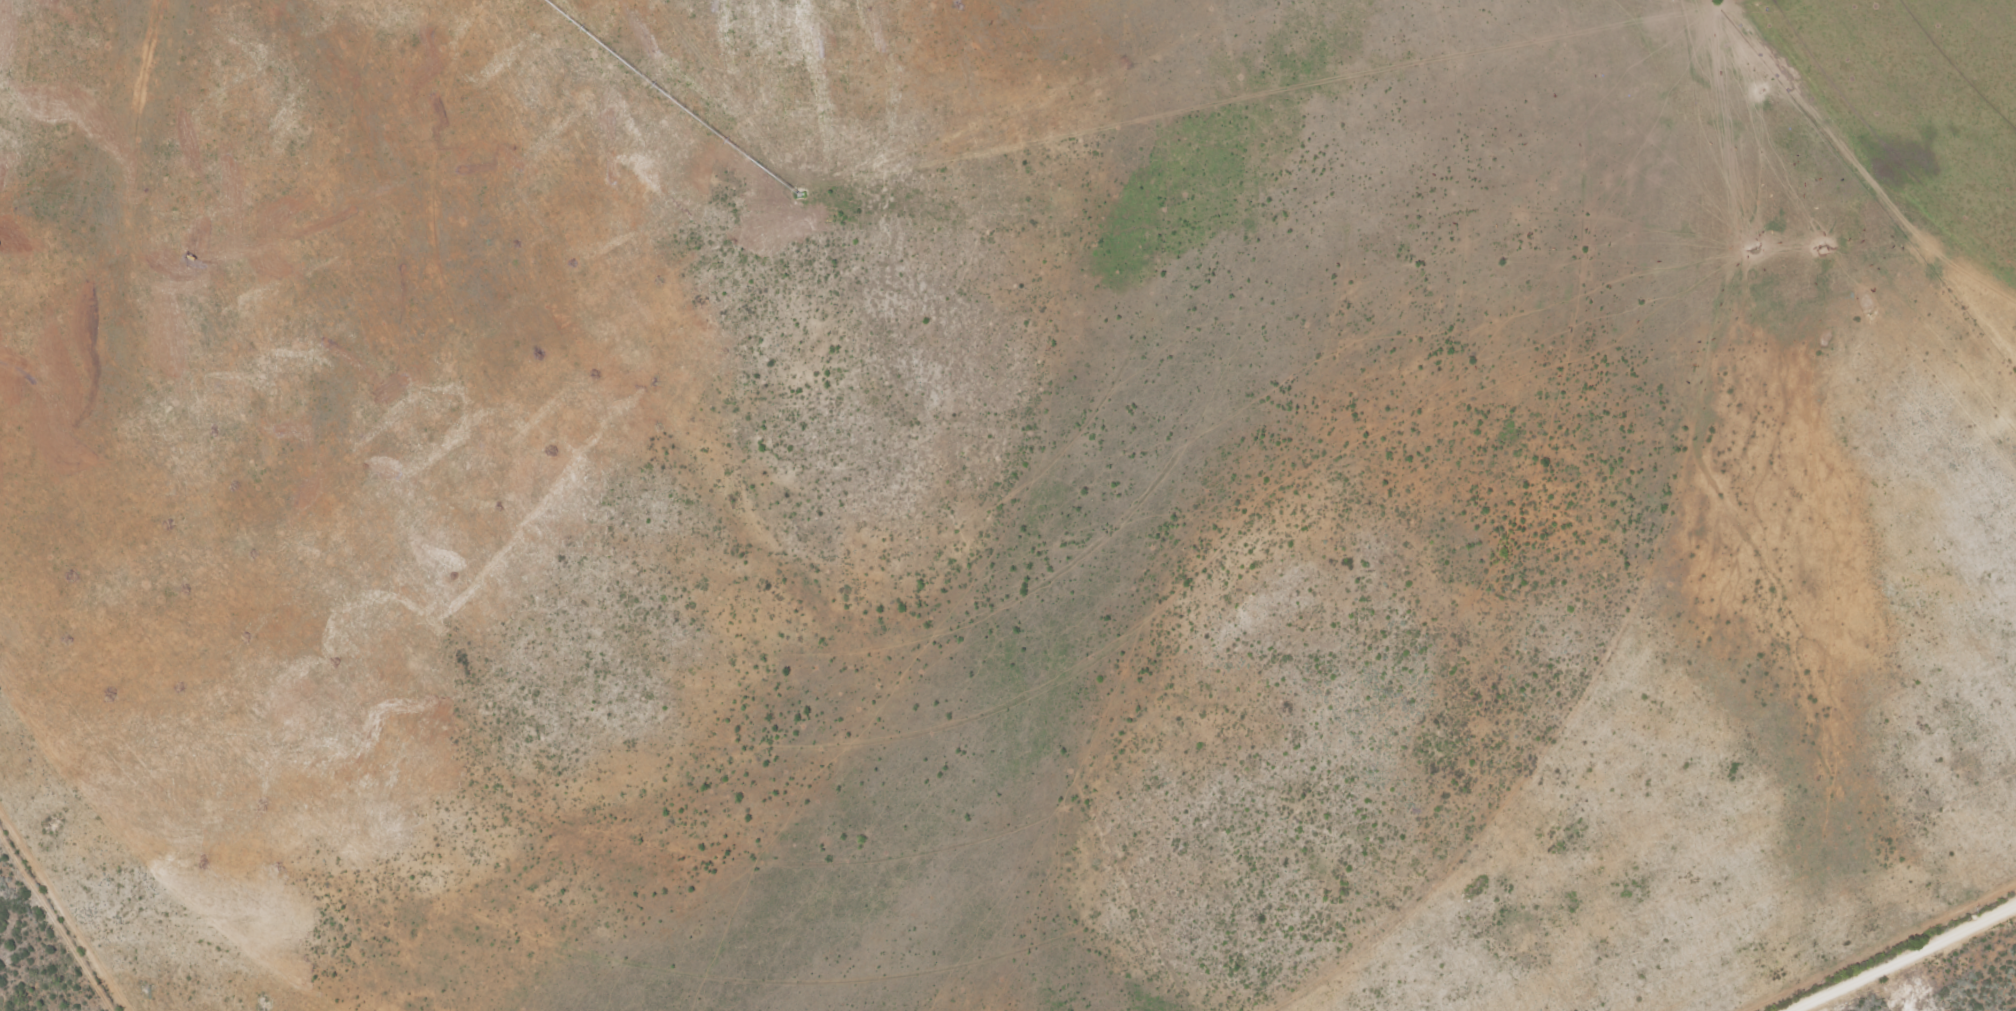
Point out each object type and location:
road: (1859, 100)
road: (1904, 959)

